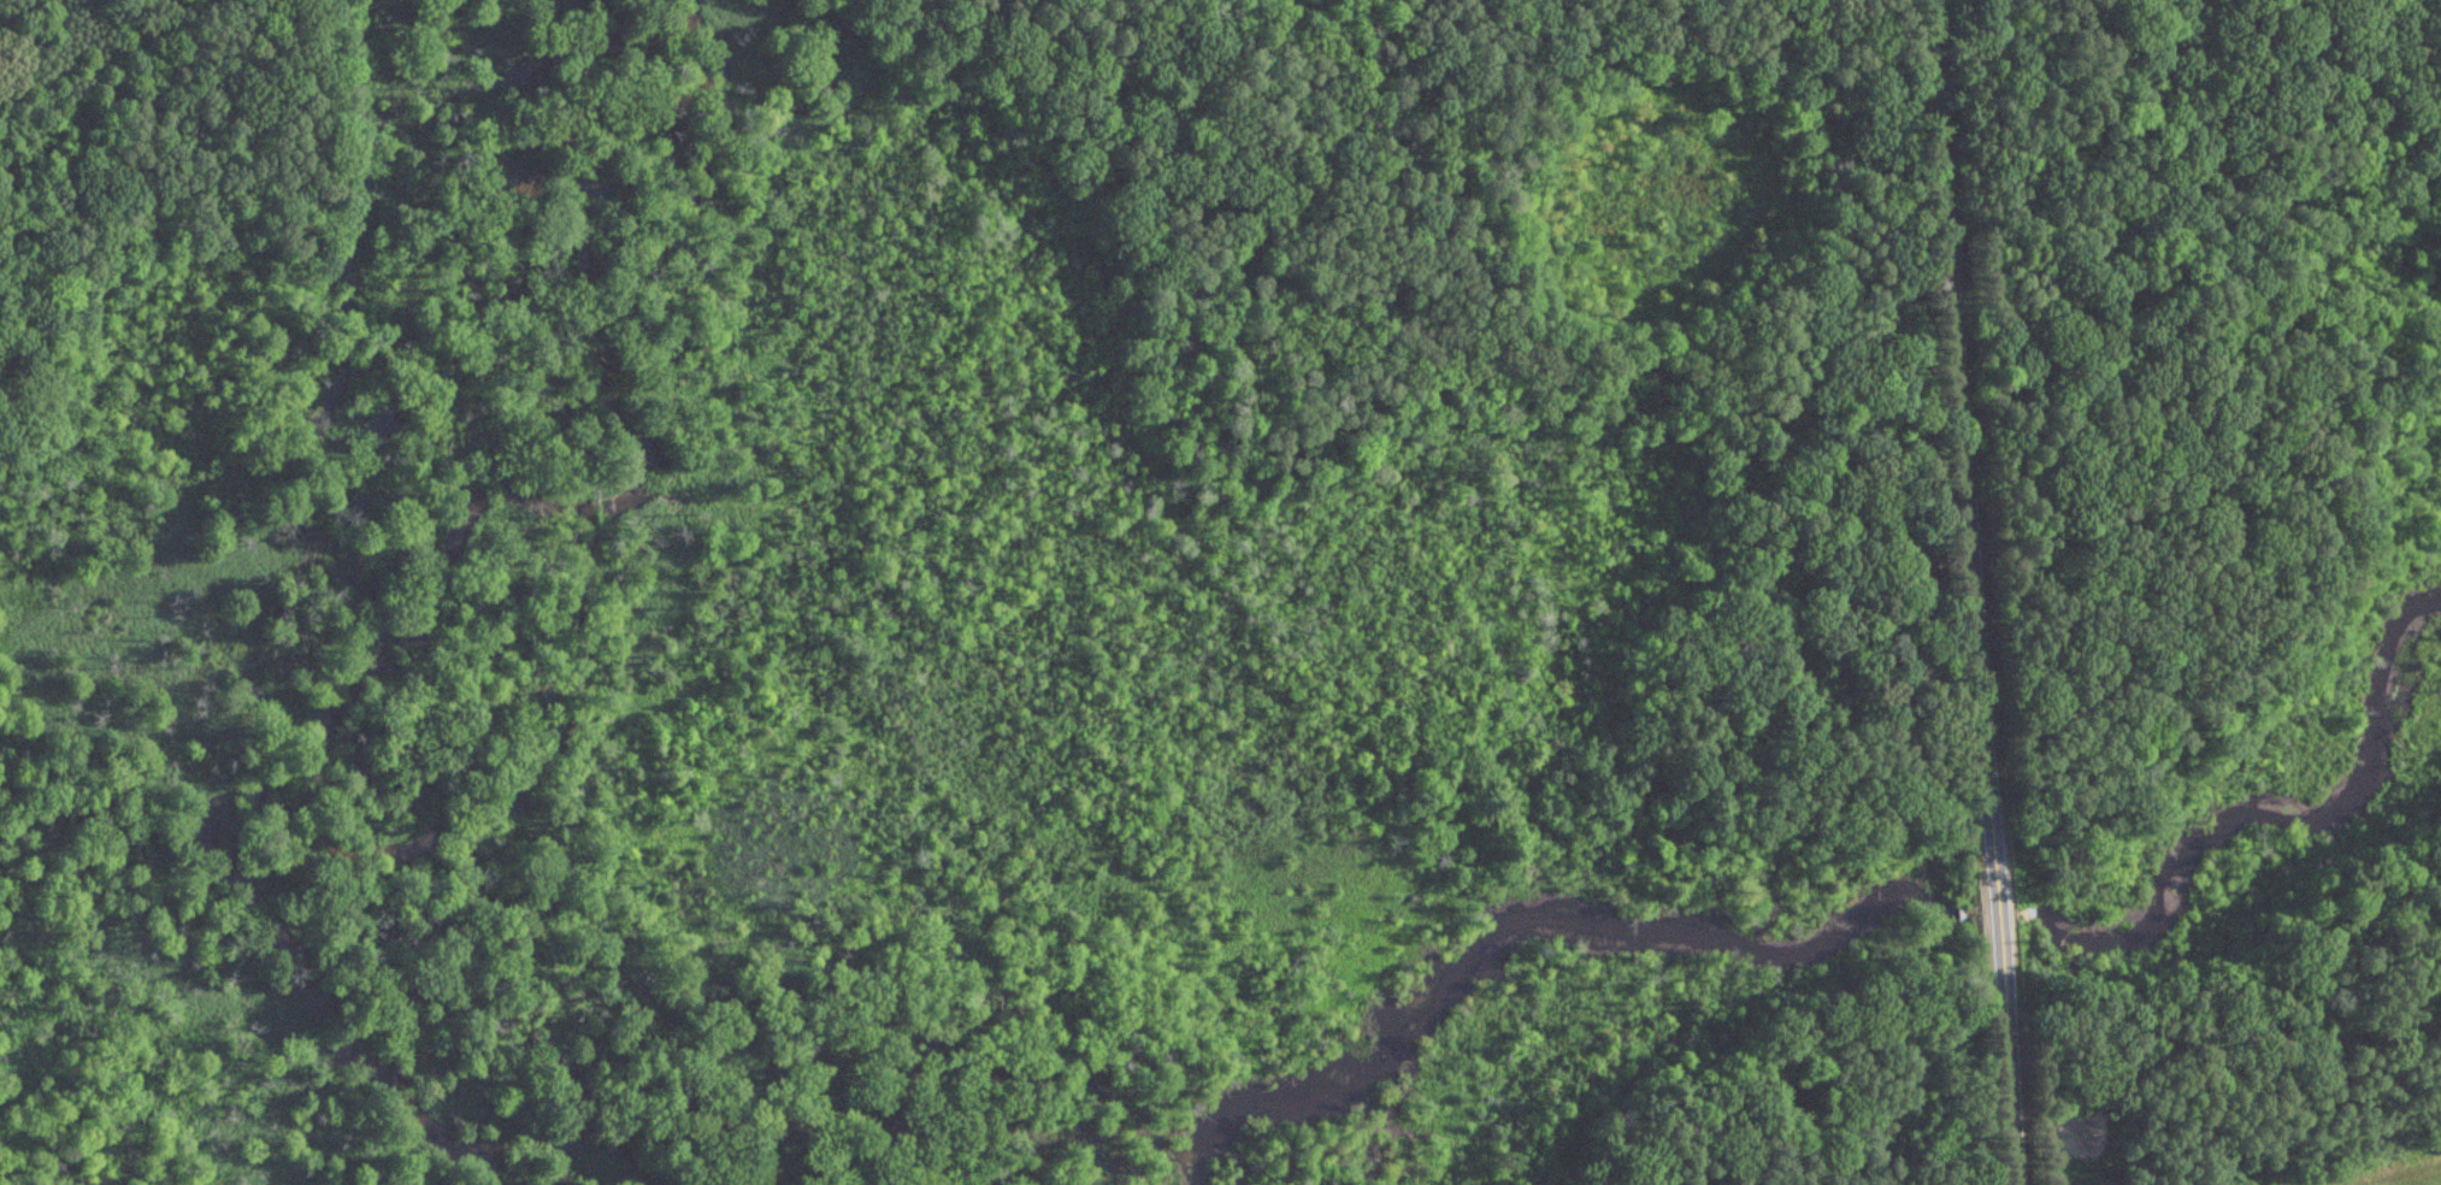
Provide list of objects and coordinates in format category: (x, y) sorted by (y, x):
road: (1808, 430)
road: (1971, 592)
river: (350, 836)
road: (2223, 1016)

